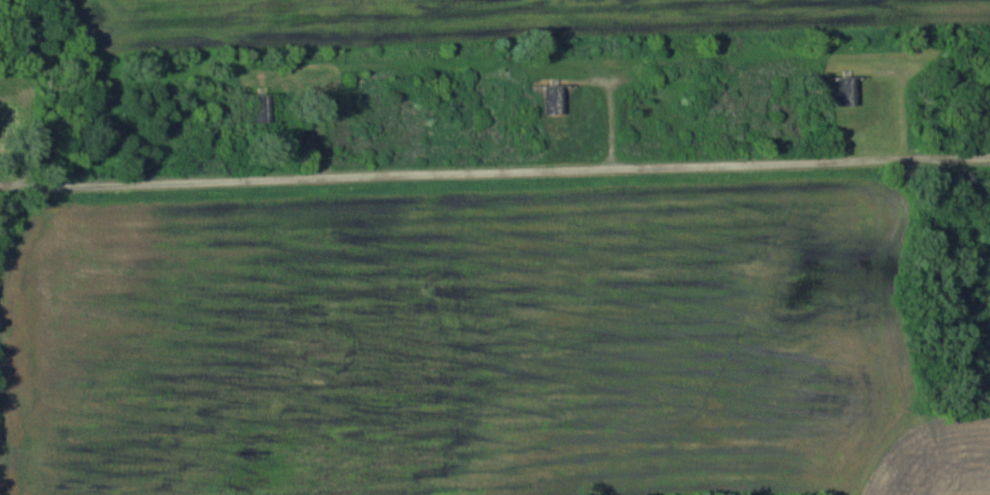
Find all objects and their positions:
building: (847, 91)
road: (494, 172)

